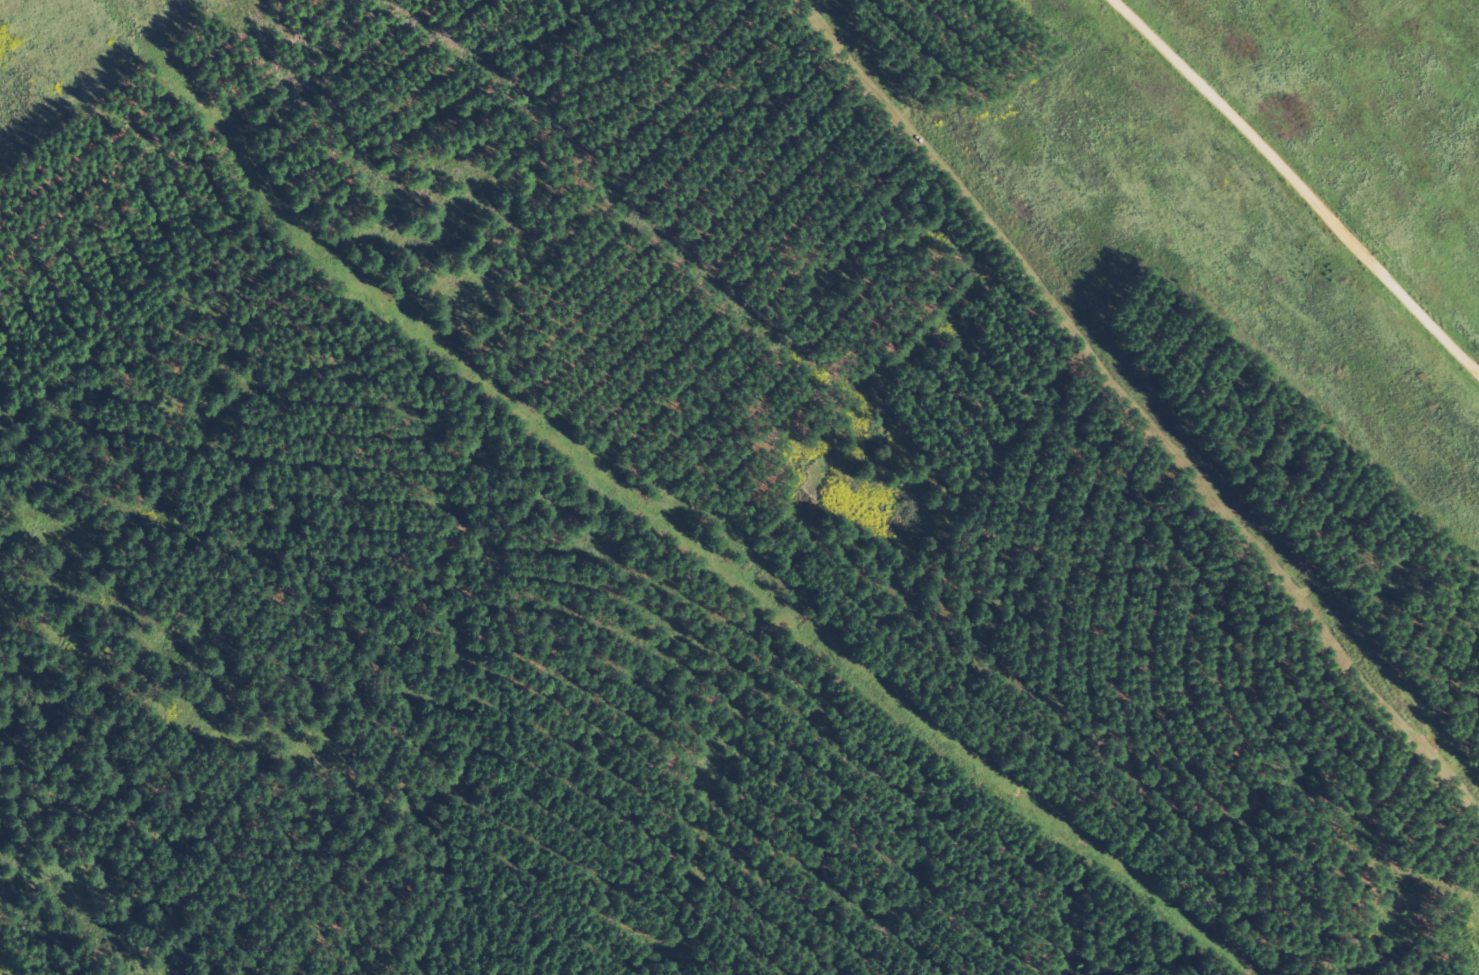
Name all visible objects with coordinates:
road: (1296, 185)

